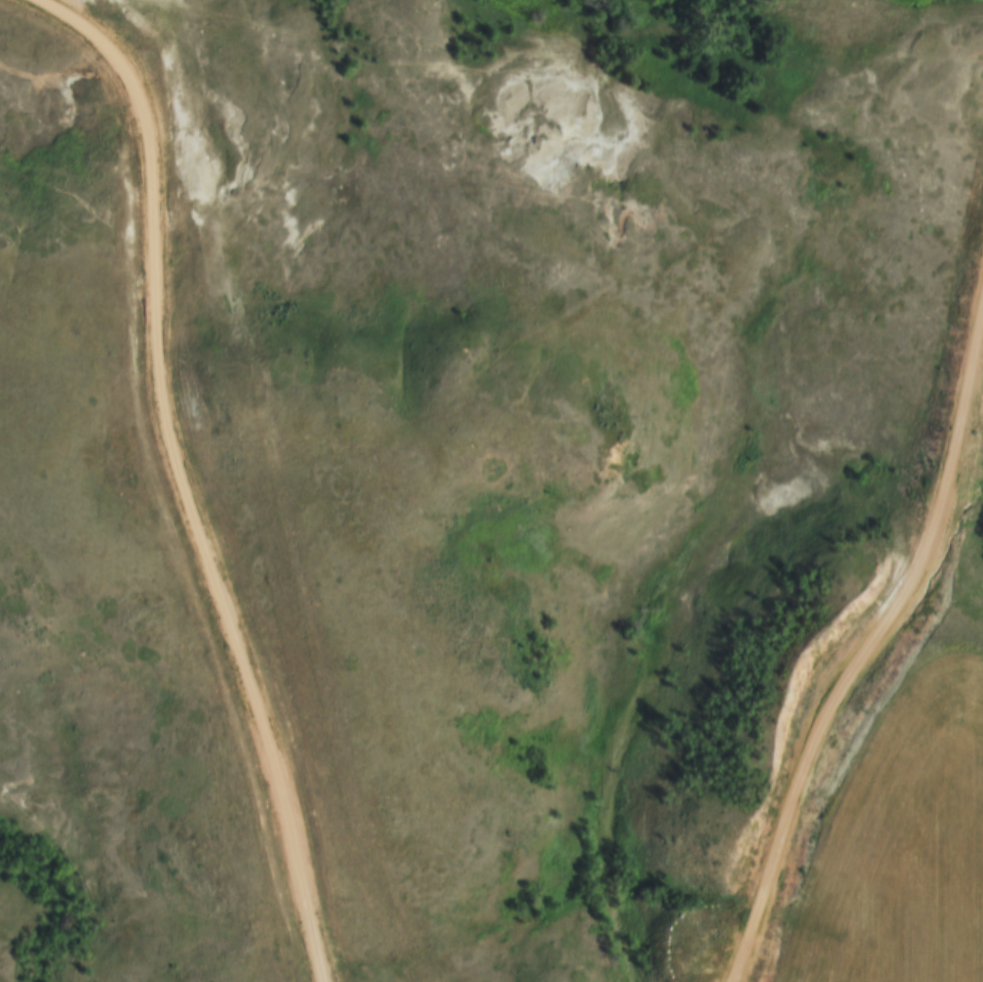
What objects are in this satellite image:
road: (184, 473)
road: (870, 644)

